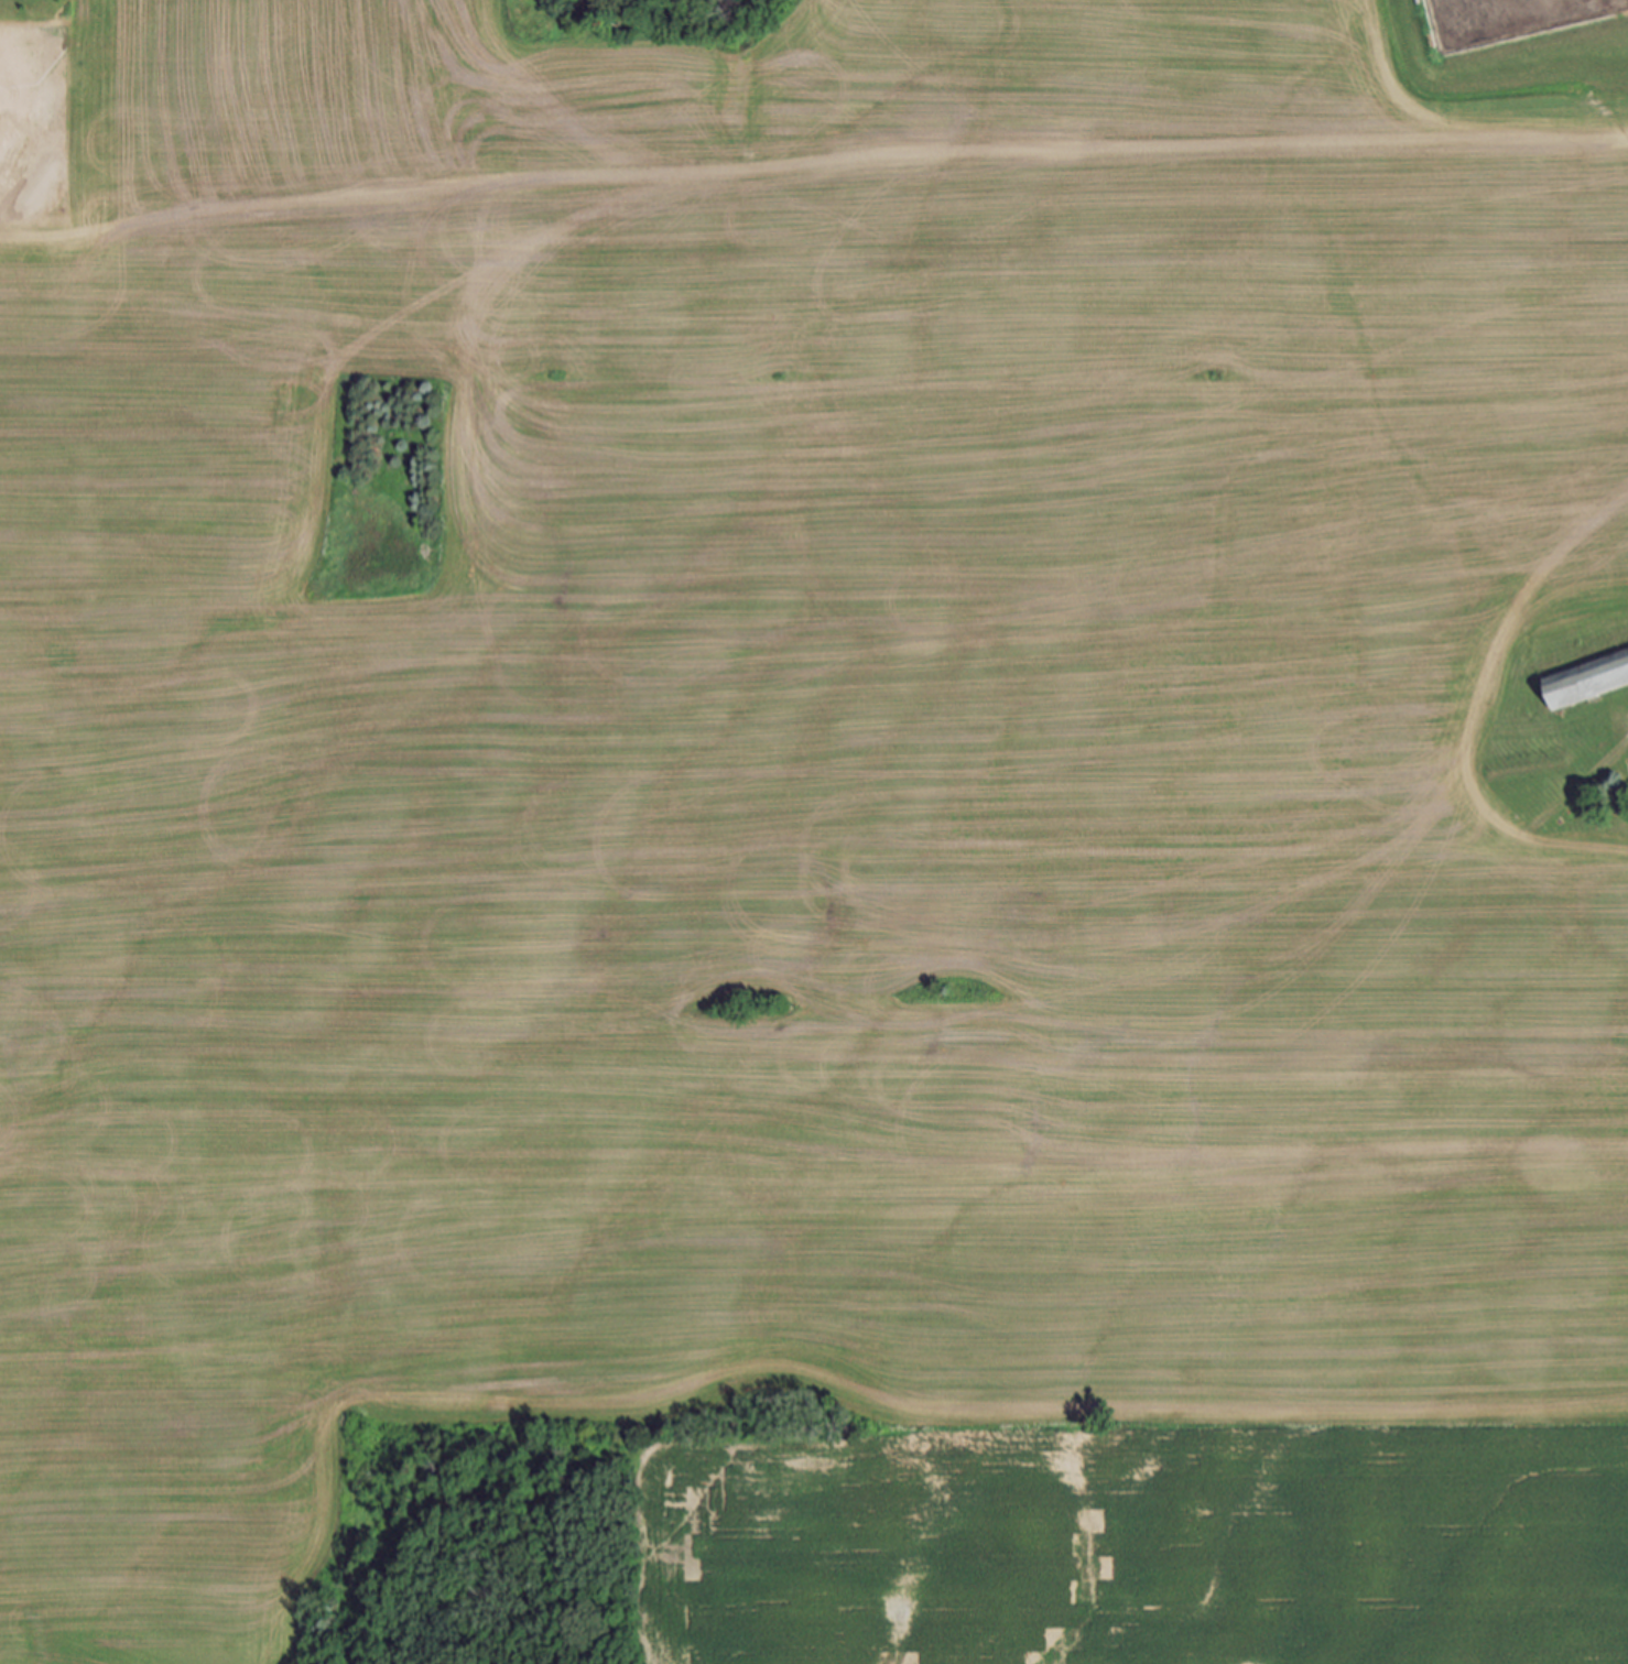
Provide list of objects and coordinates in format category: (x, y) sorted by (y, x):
building: (1587, 681)
crop: (817, 827)

